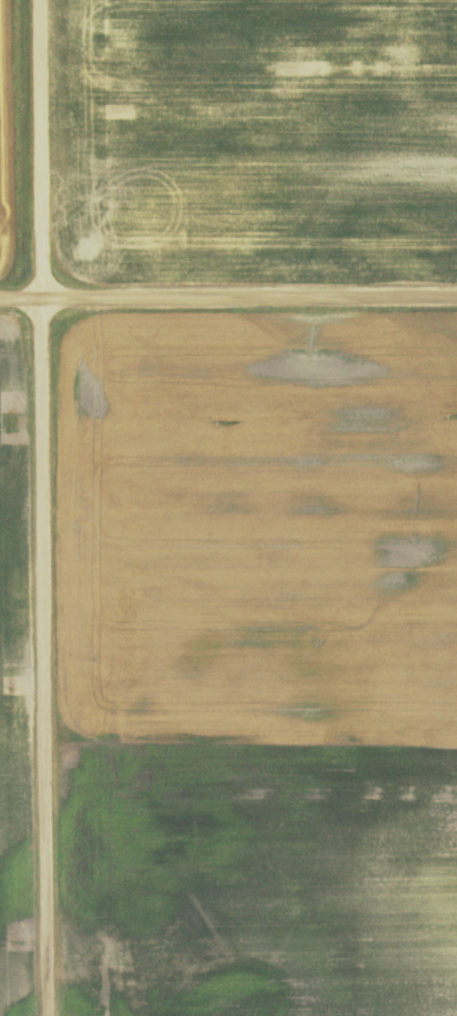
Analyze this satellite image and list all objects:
road: (228, 300)
road: (45, 508)
crop: (268, 674)
crop: (4, 681)

